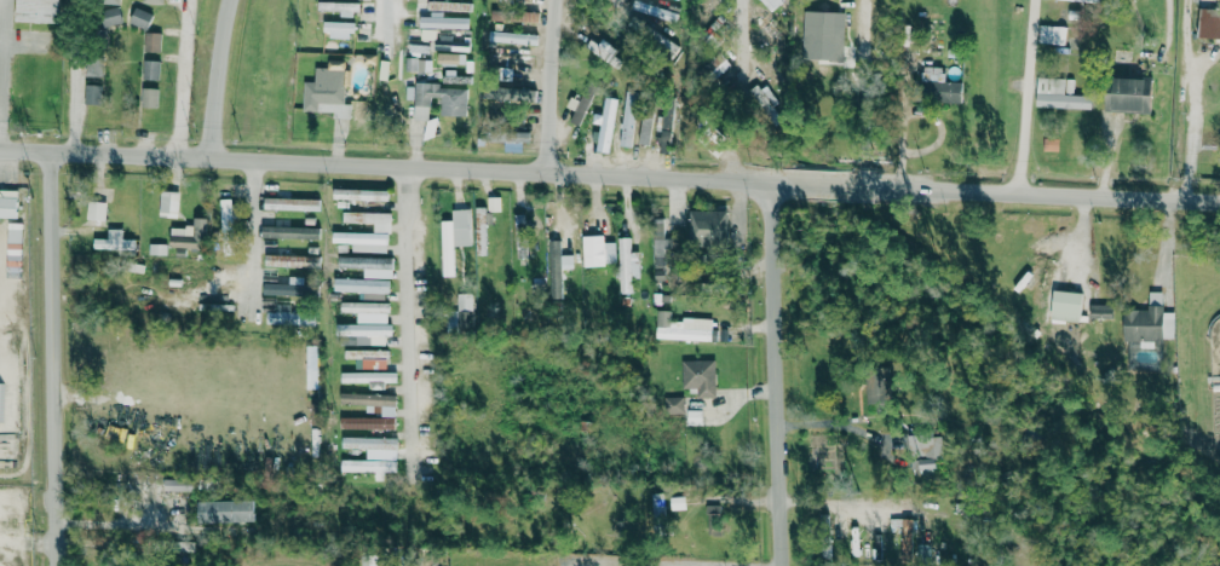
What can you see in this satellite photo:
building: (528, 0)
building: (1082, 0)
building: (110, 1)
building: (154, 1)
building: (769, 4)
building: (449, 6)
building: (339, 7)
building: (708, 7)
building: (36, 11)
building: (655, 11)
road: (384, 13)
building: (511, 16)
building: (110, 17)
building: (139, 18)
building: (442, 21)
building: (764, 23)
building: (1208, 23)
building: (336, 29)
building: (1051, 34)
building: (512, 37)
building: (824, 37)
road: (23, 41)
building: (151, 42)
building: (450, 44)
building: (603, 51)
building: (447, 58)
building: (508, 59)
building: (418, 64)
building: (150, 70)
road: (5, 76)
road: (76, 77)
road: (188, 80)
road: (226, 80)
road: (551, 87)
building: (326, 93)
road: (863, 93)
building: (92, 94)
building: (508, 94)
road: (749, 94)
building: (1059, 94)
building: (1128, 94)
building: (148, 97)
road: (1031, 97)
road: (1192, 102)
building: (453, 106)
building: (579, 106)
building: (628, 119)
building: (605, 122)
building: (663, 122)
building: (645, 127)
road: (899, 134)
building: (1049, 144)
road: (609, 177)
building: (359, 194)
building: (168, 203)
building: (290, 203)
building: (493, 203)
building: (10, 206)
building: (94, 210)
building: (226, 218)
building: (370, 219)
building: (707, 225)
building: (479, 231)
building: (289, 232)
building: (189, 236)
building: (520, 236)
road: (252, 237)
building: (454, 237)
building: (362, 241)
building: (13, 242)
building: (113, 242)
building: (663, 244)
building: (156, 249)
building: (598, 252)
building: (290, 260)
building: (368, 265)
building: (627, 265)
building: (557, 267)
building: (185, 271)
building: (361, 285)
building: (267, 304)
building: (1065, 306)
building: (207, 307)
building: (364, 307)
building: (464, 310)
building: (1100, 311)
building: (288, 316)
road: (408, 323)
building: (1149, 324)
building: (681, 328)
building: (367, 333)
building: (368, 357)
road: (61, 360)
road: (778, 375)
building: (368, 376)
building: (698, 376)
building: (877, 386)
building: (0, 400)
building: (370, 402)
building: (673, 405)
building: (694, 417)
road: (834, 421)
building: (367, 423)
building: (369, 443)
building: (926, 451)
building: (368, 467)
building: (177, 485)
building: (677, 503)
building: (657, 504)
building: (224, 512)
building: (713, 520)
road: (117, 525)
building: (905, 539)
road: (677, 562)

